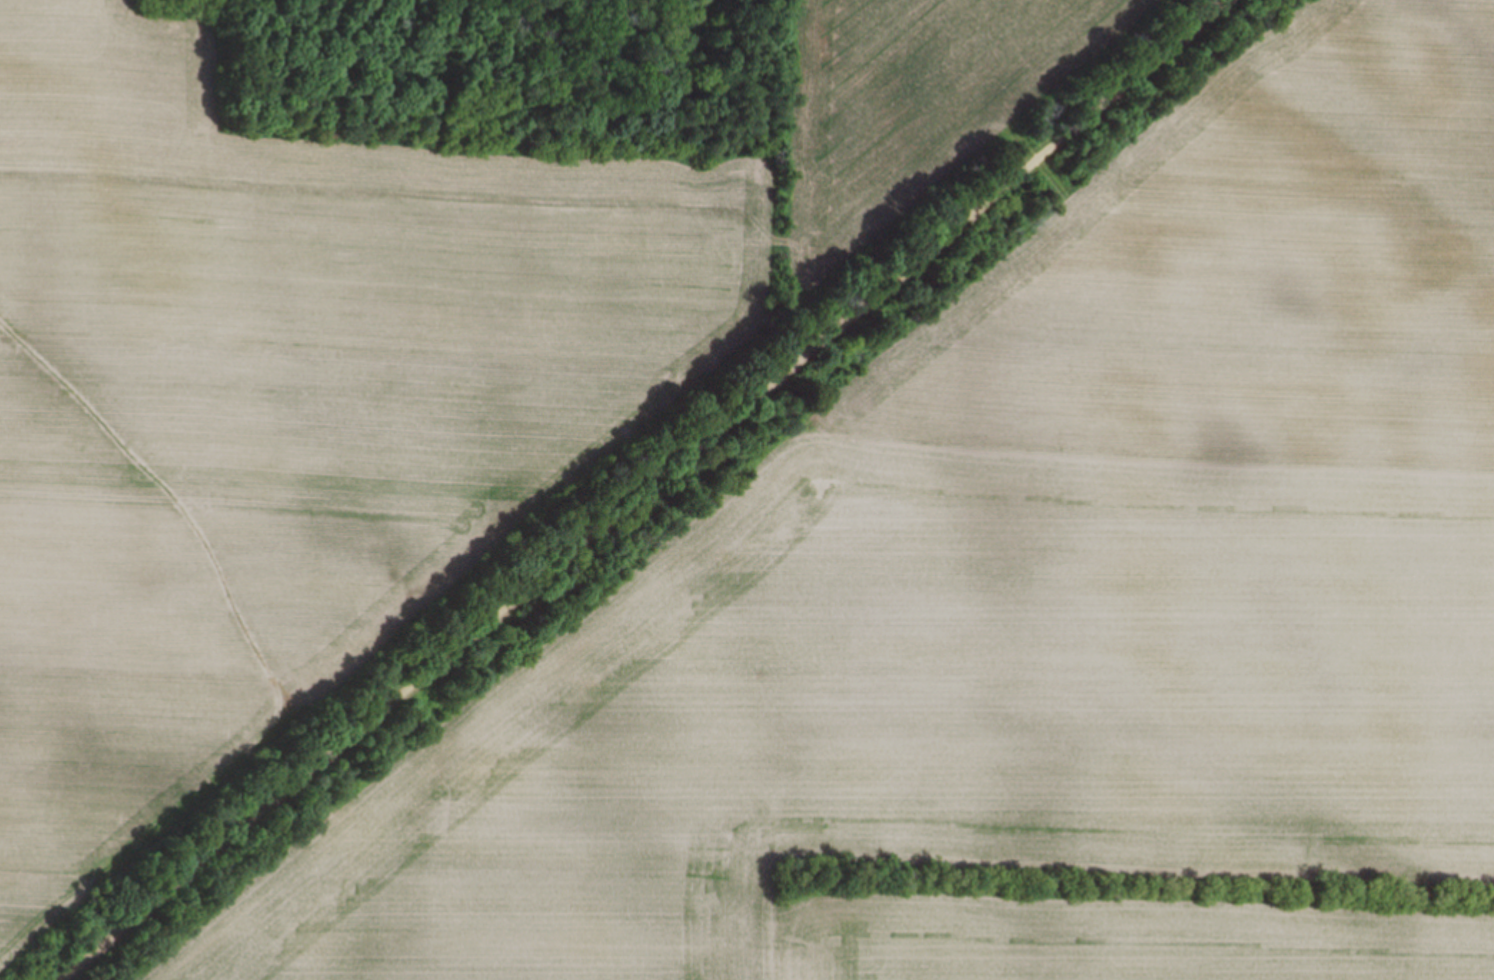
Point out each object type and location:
road: (658, 489)

